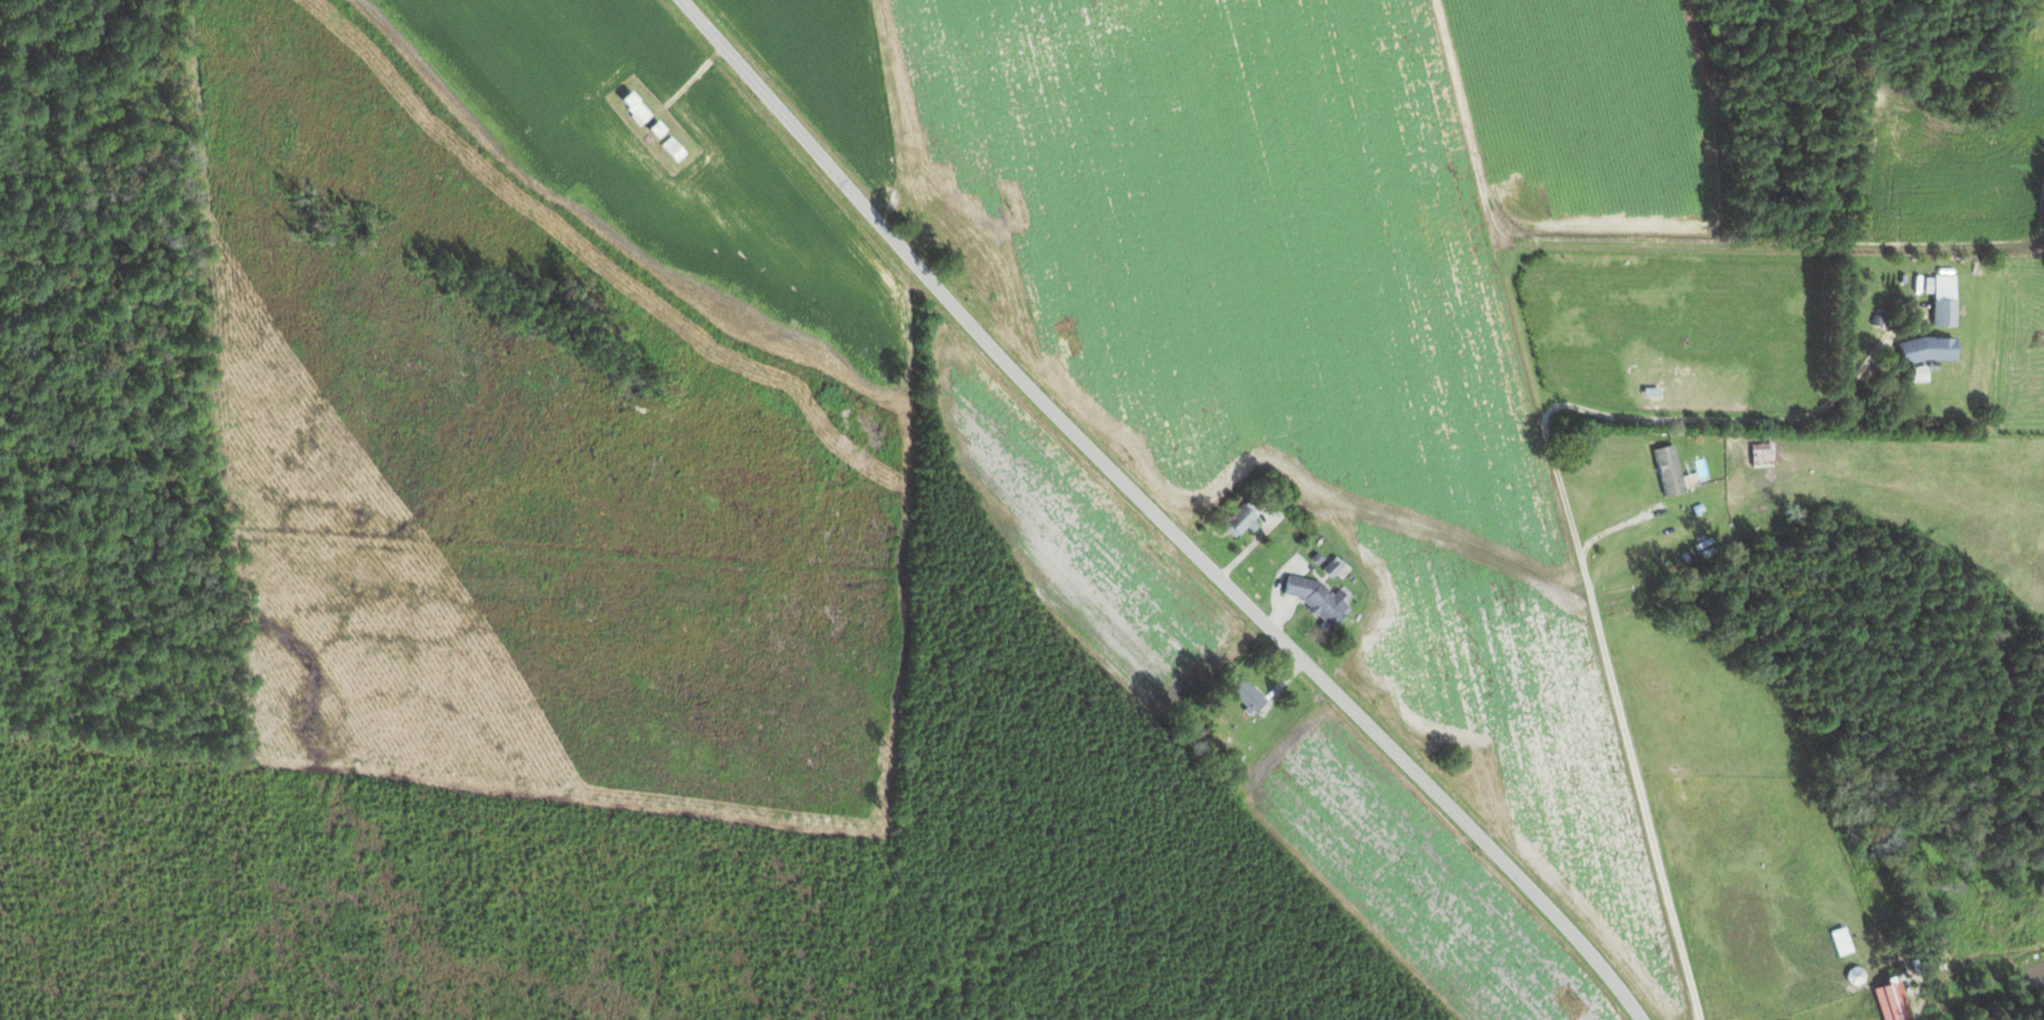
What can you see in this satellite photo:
building: (631, 108)
building: (651, 130)
building: (671, 151)
building: (908, 162)
building: (1941, 314)
building: (1882, 325)
building: (1856, 357)
building: (1913, 375)
building: (1665, 471)
road: (1154, 510)
road: (1572, 522)
building: (1238, 523)
building: (1315, 601)
building: (1244, 696)
building: (2021, 938)
building: (1853, 977)
building: (1888, 1002)

